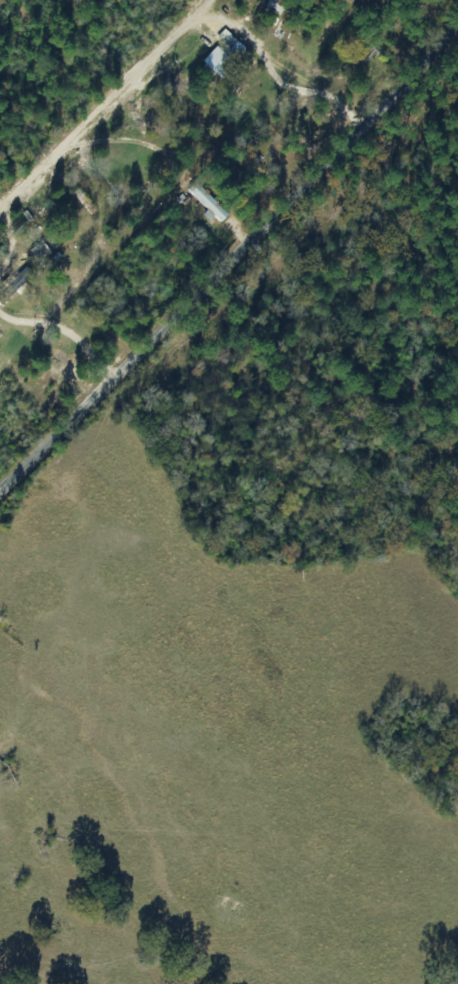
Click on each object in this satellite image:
building: (215, 63)
building: (236, 87)
road: (110, 114)
building: (206, 202)
building: (38, 253)
building: (12, 283)
road: (237, 298)

